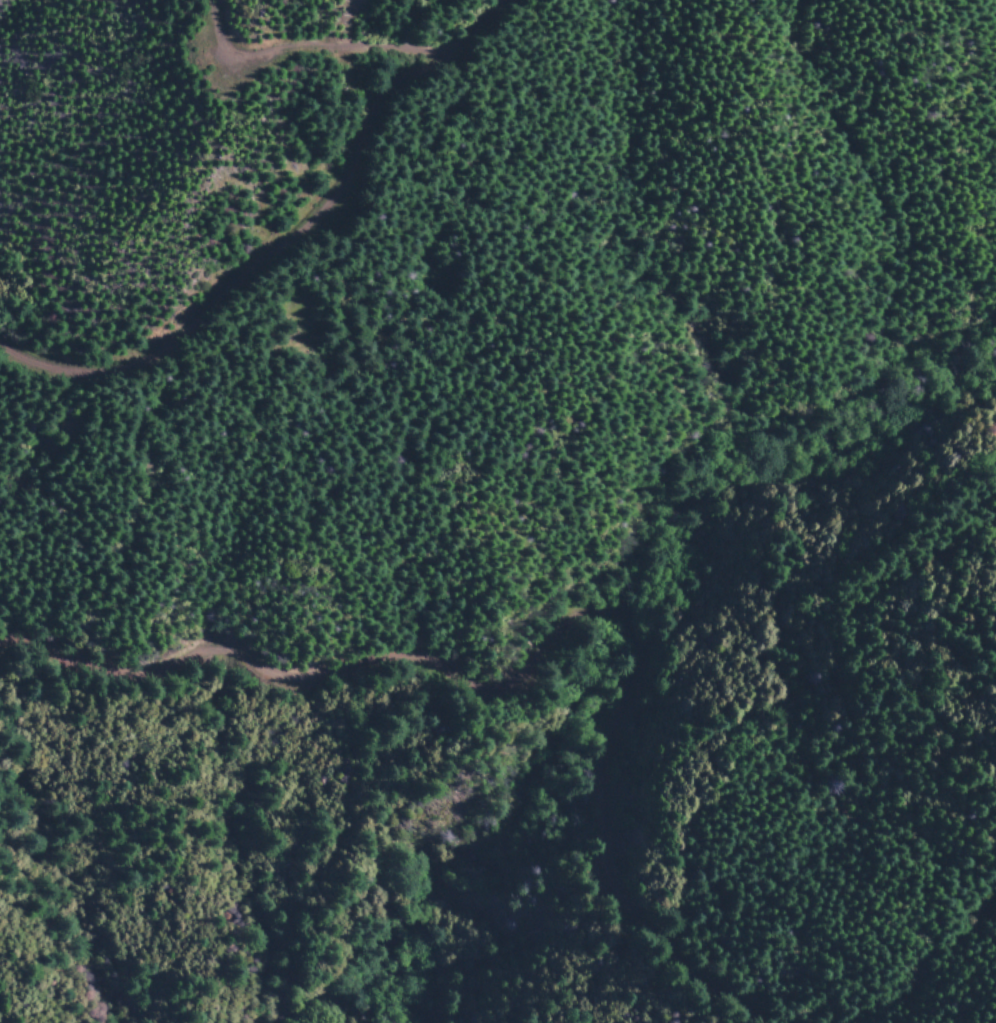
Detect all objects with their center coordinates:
road: (683, 585)
road: (375, 599)
road: (909, 607)

